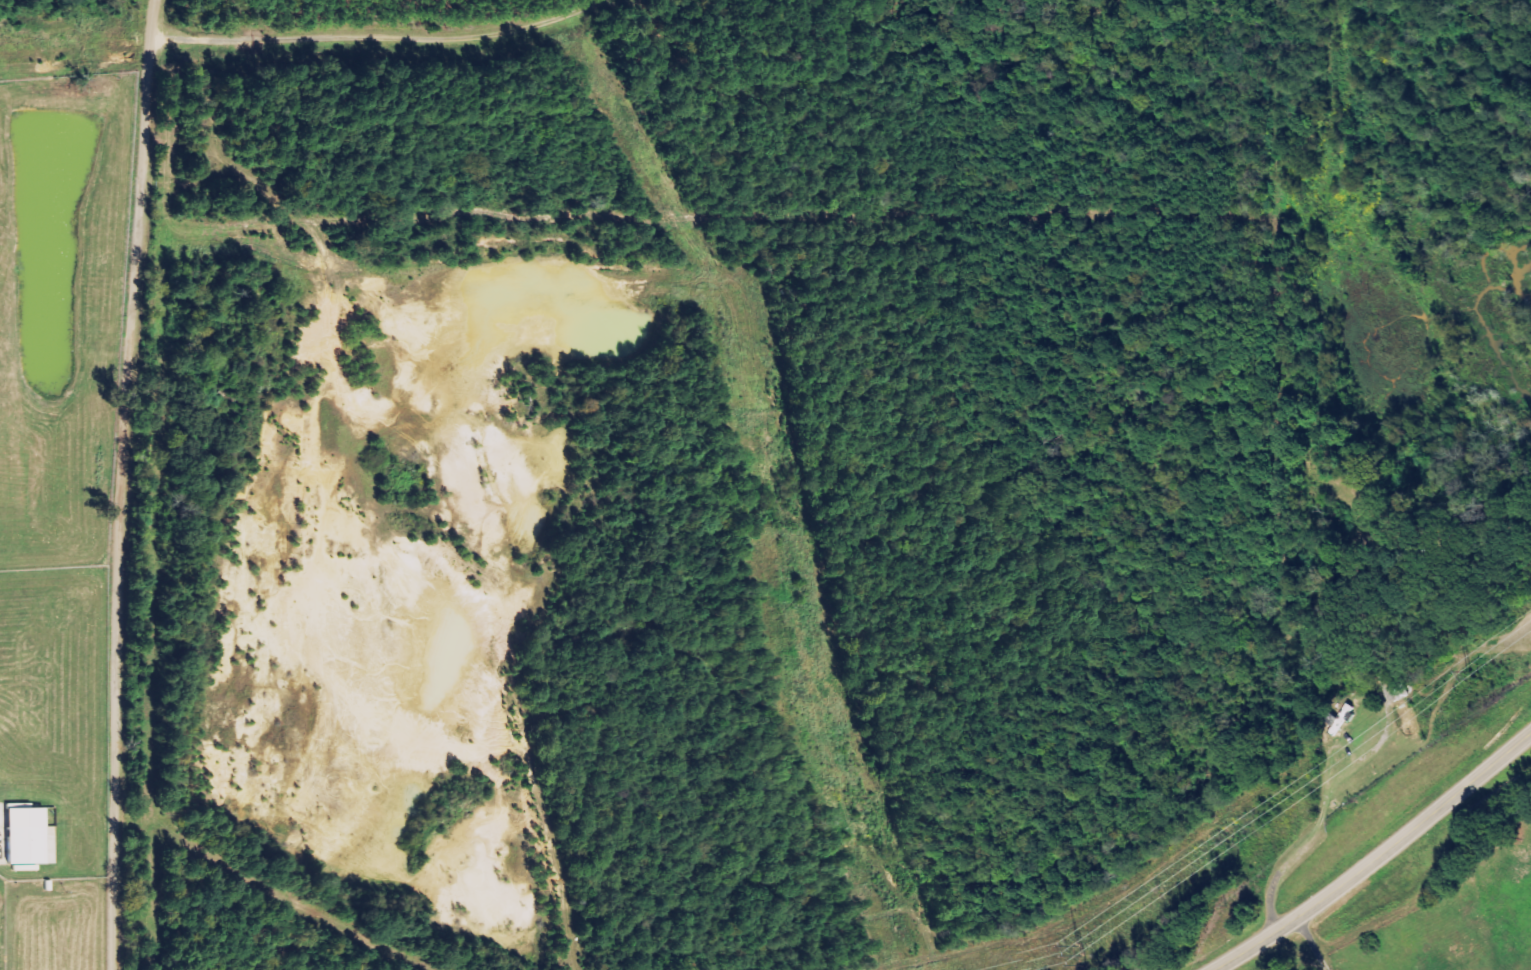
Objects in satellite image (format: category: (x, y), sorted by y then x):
road: (122, 484)
power tower: (1471, 677)
building: (20, 835)
road: (1376, 856)
road: (1312, 943)
power tower: (1086, 950)

